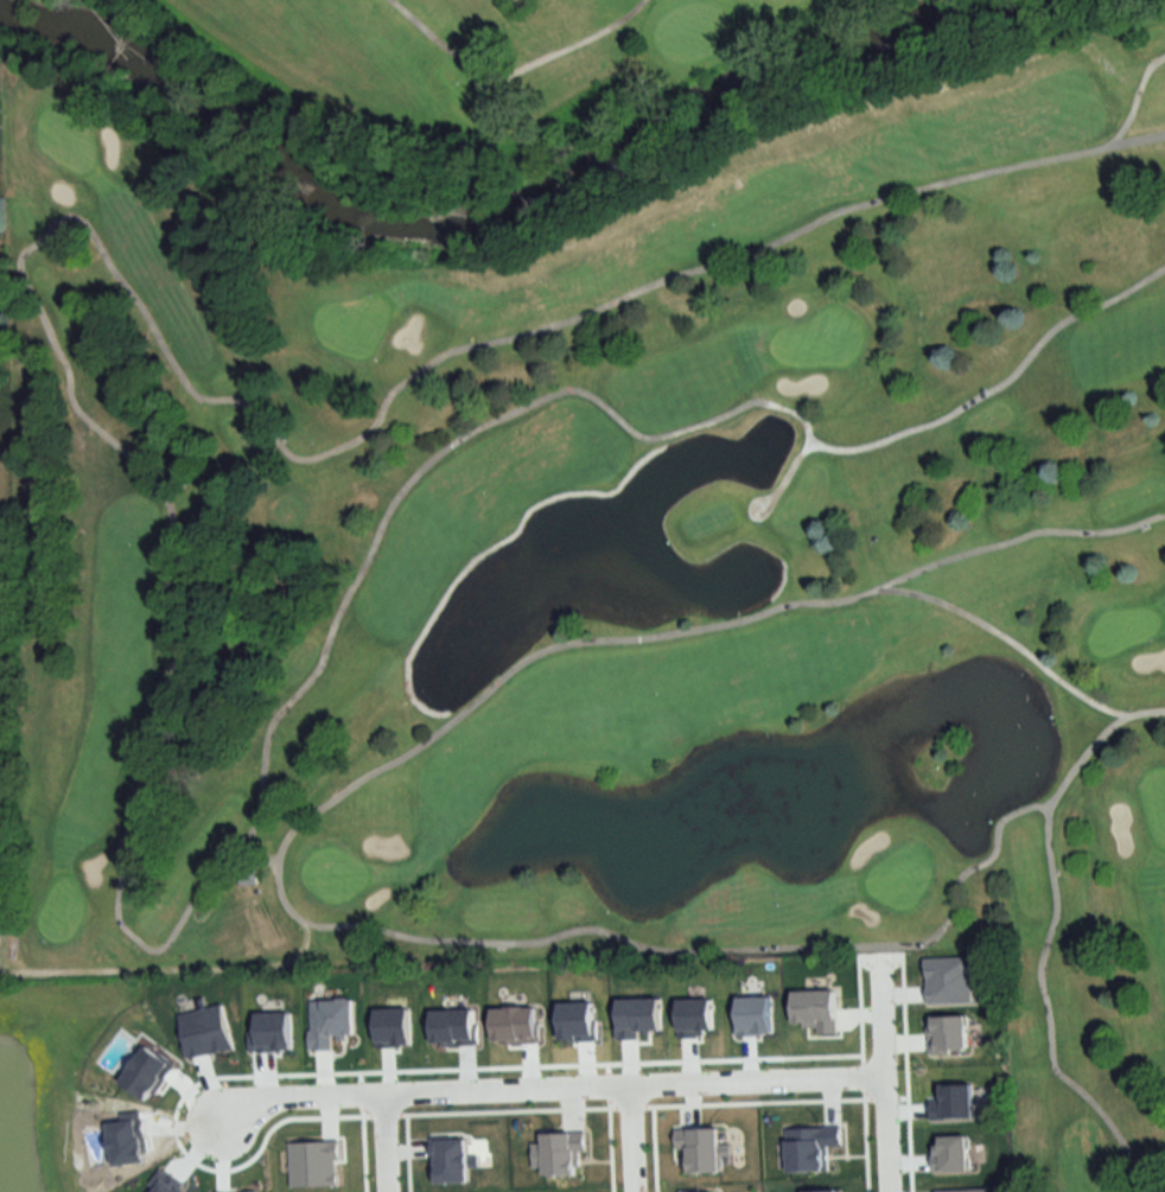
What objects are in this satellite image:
park: (460, 76)
road: (1125, 122)
road: (995, 384)
road: (809, 440)
park: (613, 562)
road: (887, 588)
road: (173, 605)
road: (266, 858)
road: (399, 933)
road: (1046, 1012)
road: (886, 1071)
road: (553, 1088)
road: (634, 1137)
road: (383, 1145)

